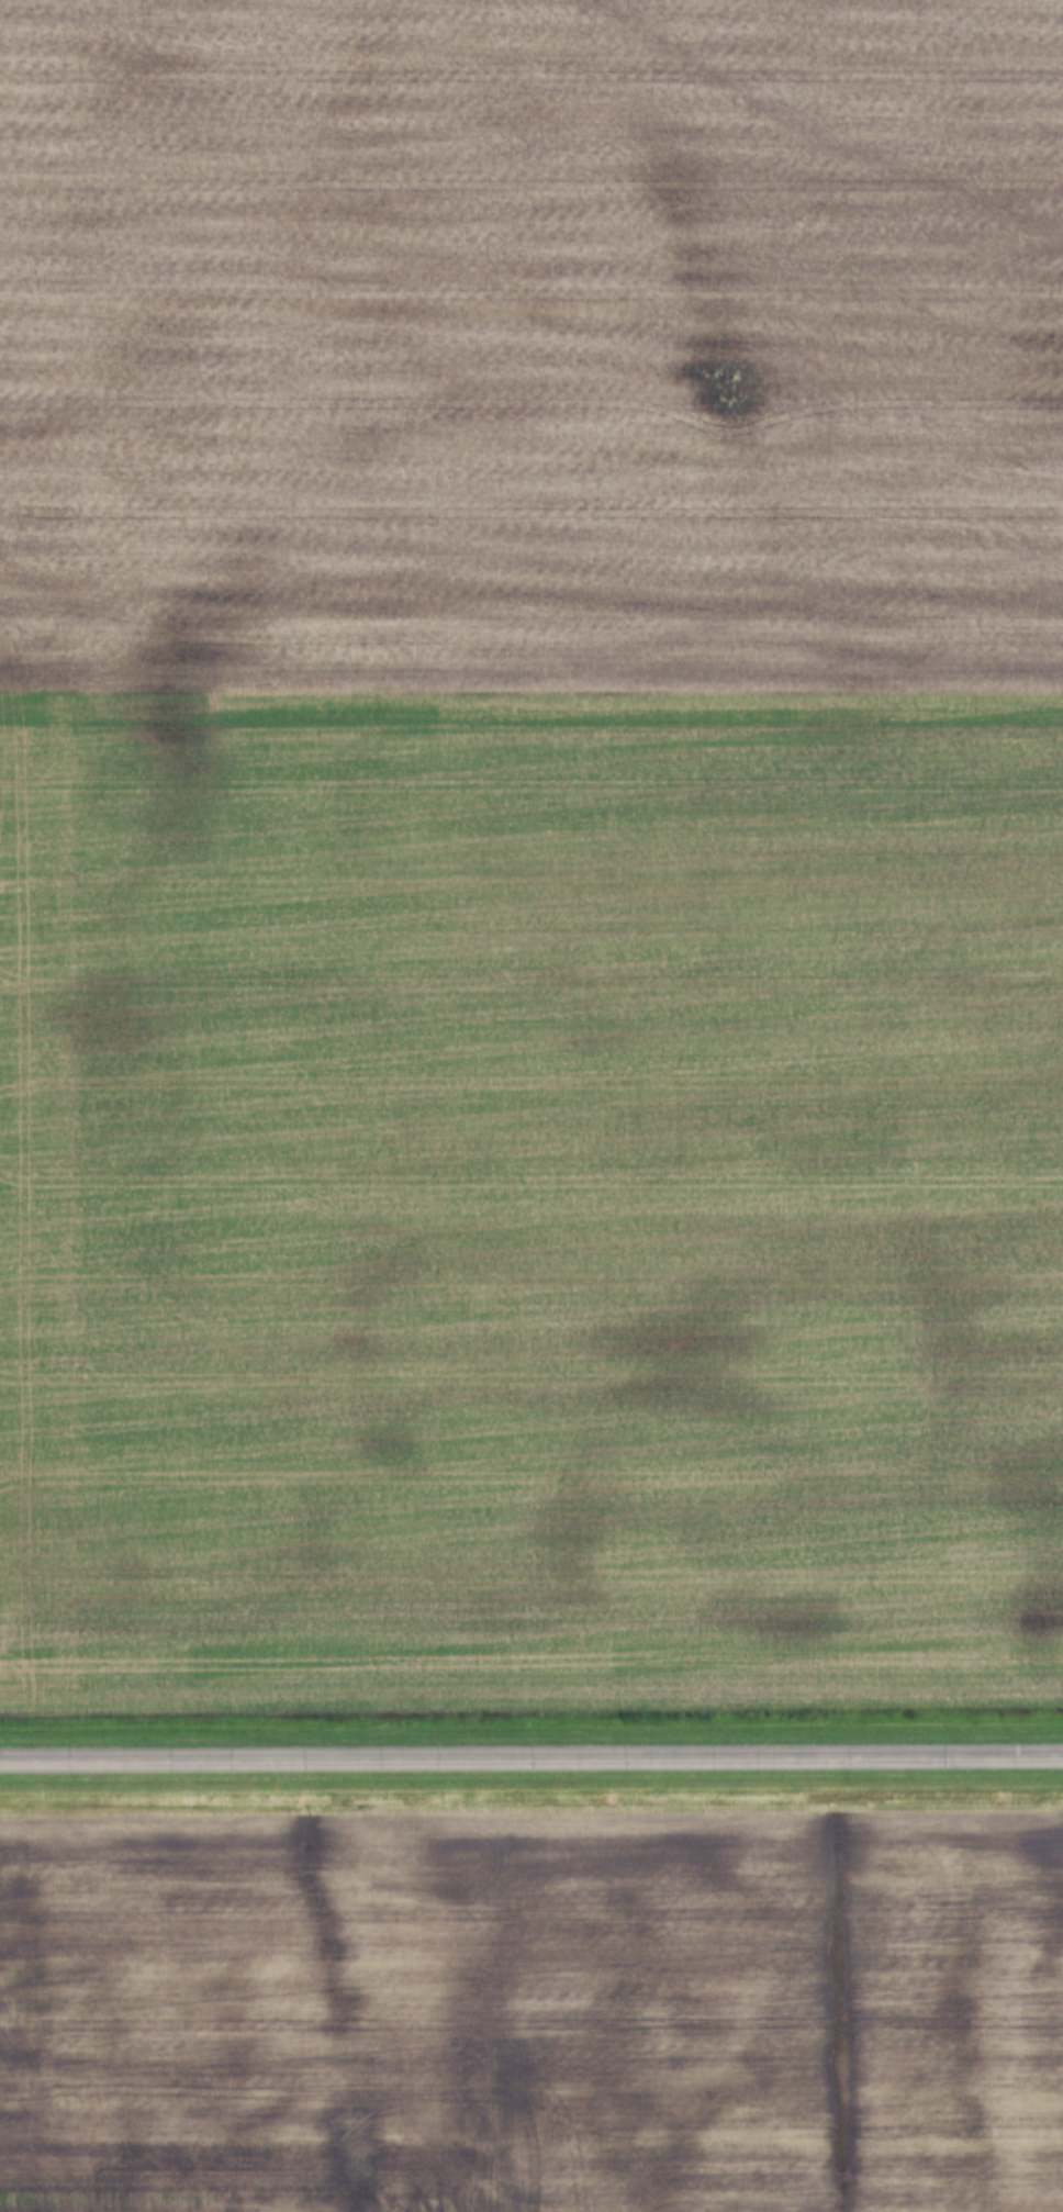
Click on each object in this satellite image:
road: (531, 1761)

